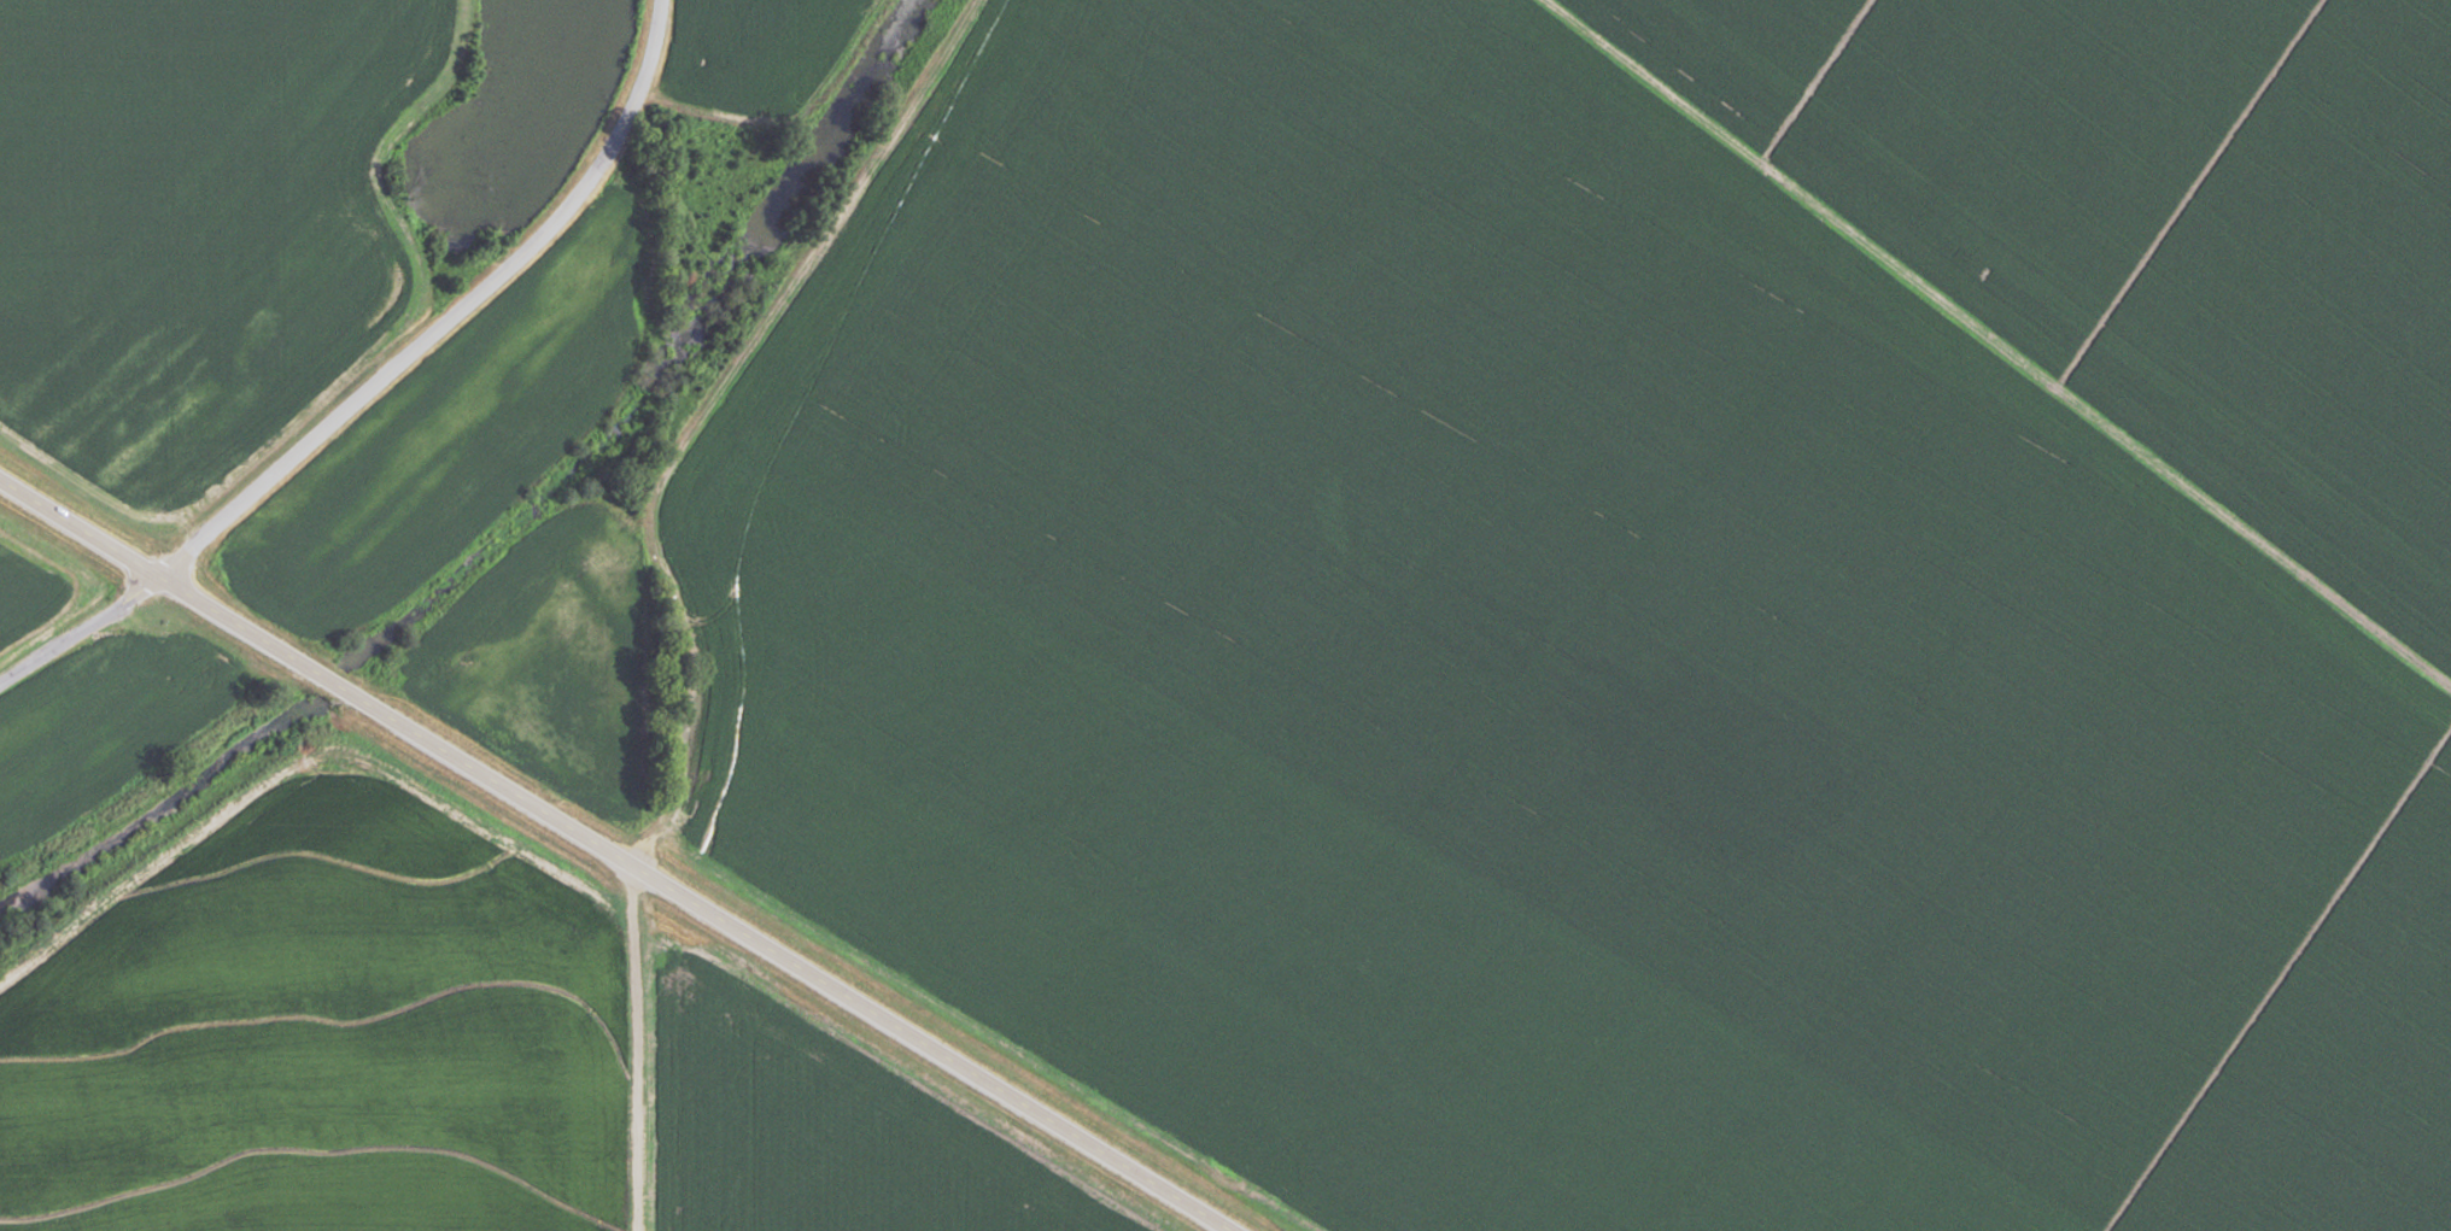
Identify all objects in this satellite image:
road: (376, 377)
road: (614, 855)

